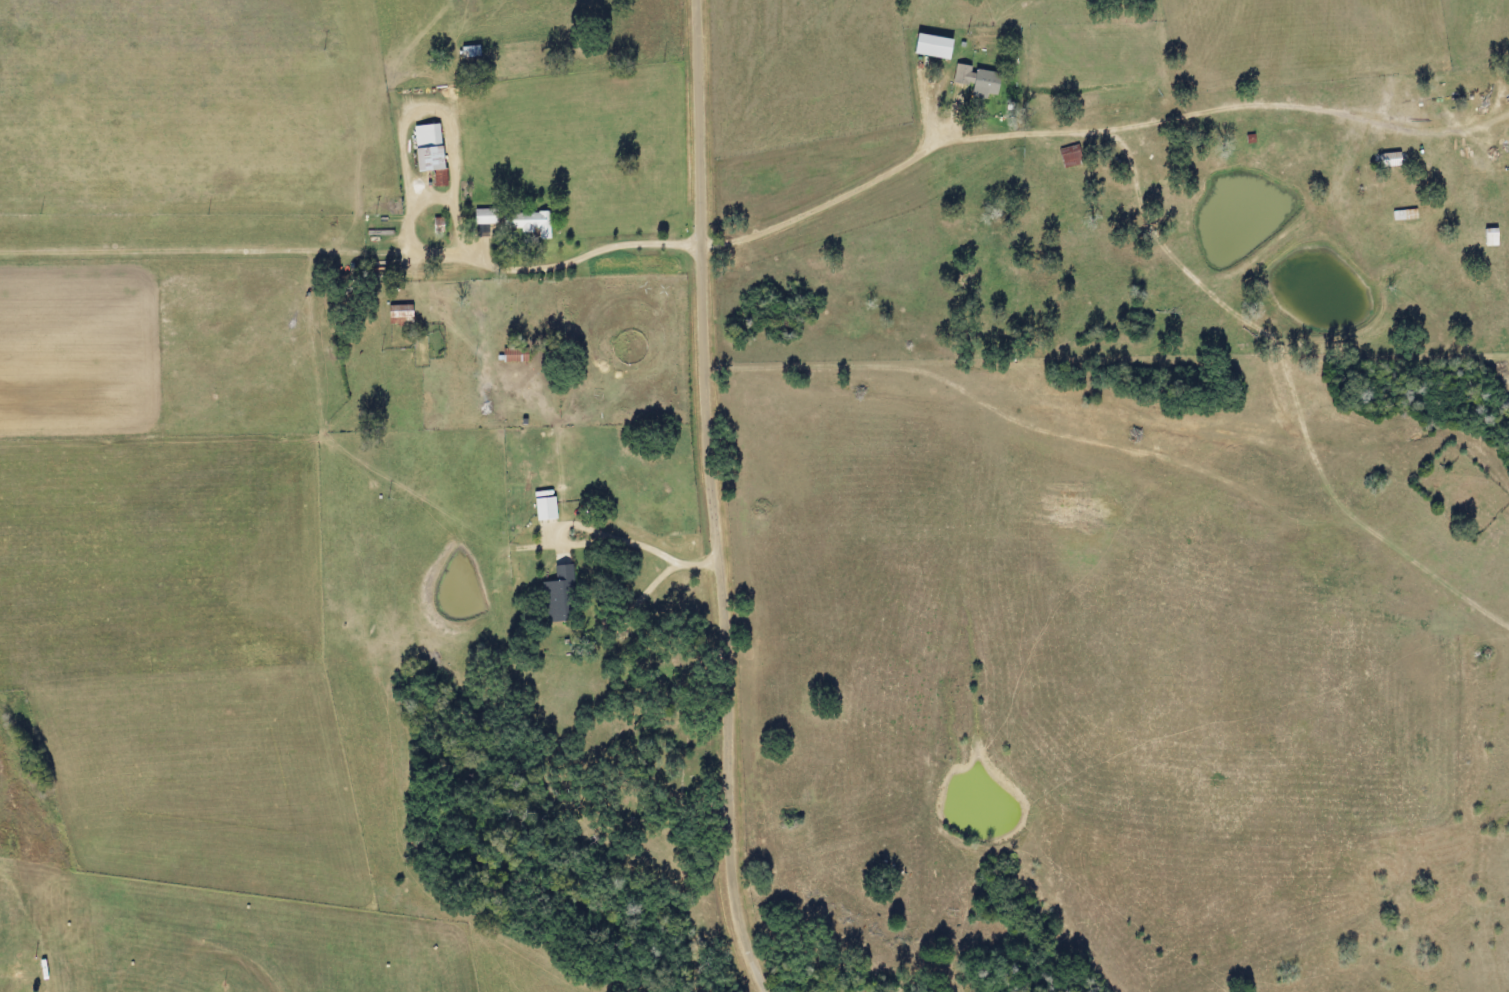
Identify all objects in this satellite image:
building: (925, 46)
building: (464, 51)
building: (970, 78)
road: (1096, 128)
building: (424, 150)
building: (478, 216)
building: (1407, 217)
building: (529, 224)
building: (1486, 237)
building: (396, 315)
building: (511, 356)
road: (1119, 469)
road: (715, 499)
building: (539, 505)
building: (554, 596)
park: (673, 745)

